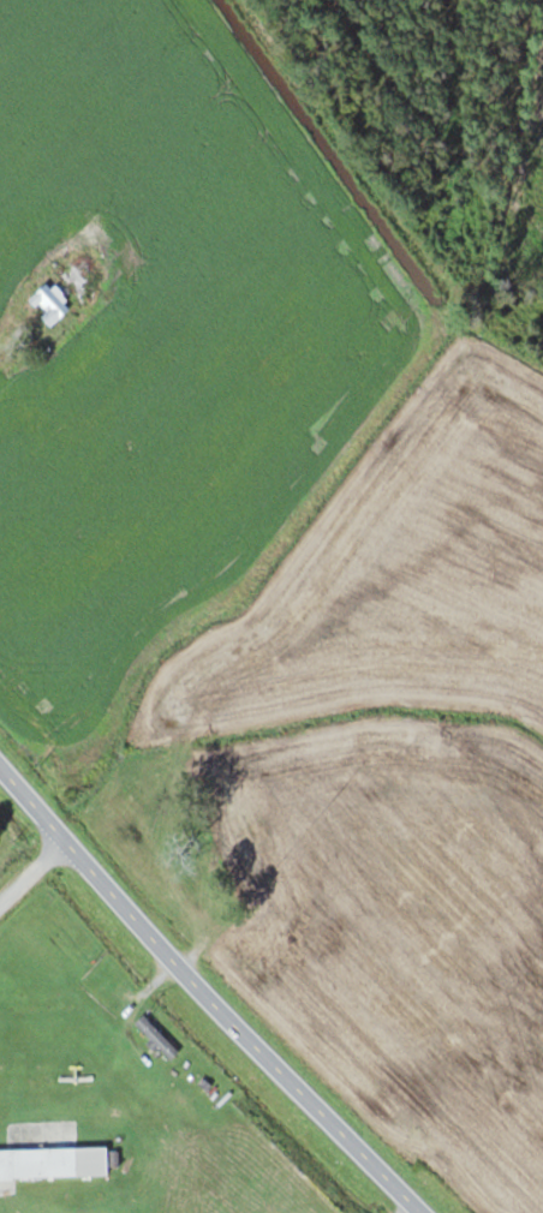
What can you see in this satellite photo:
building: (86, 235)
building: (50, 301)
road: (31, 868)
road: (207, 991)
building: (157, 1035)
airport: (132, 1082)
building: (53, 1159)

